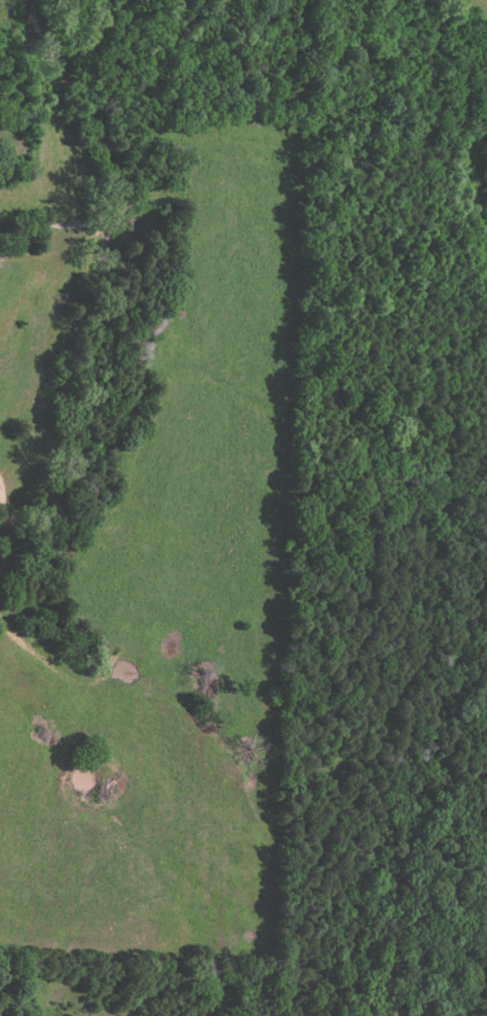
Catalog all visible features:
park: (9, 94)

